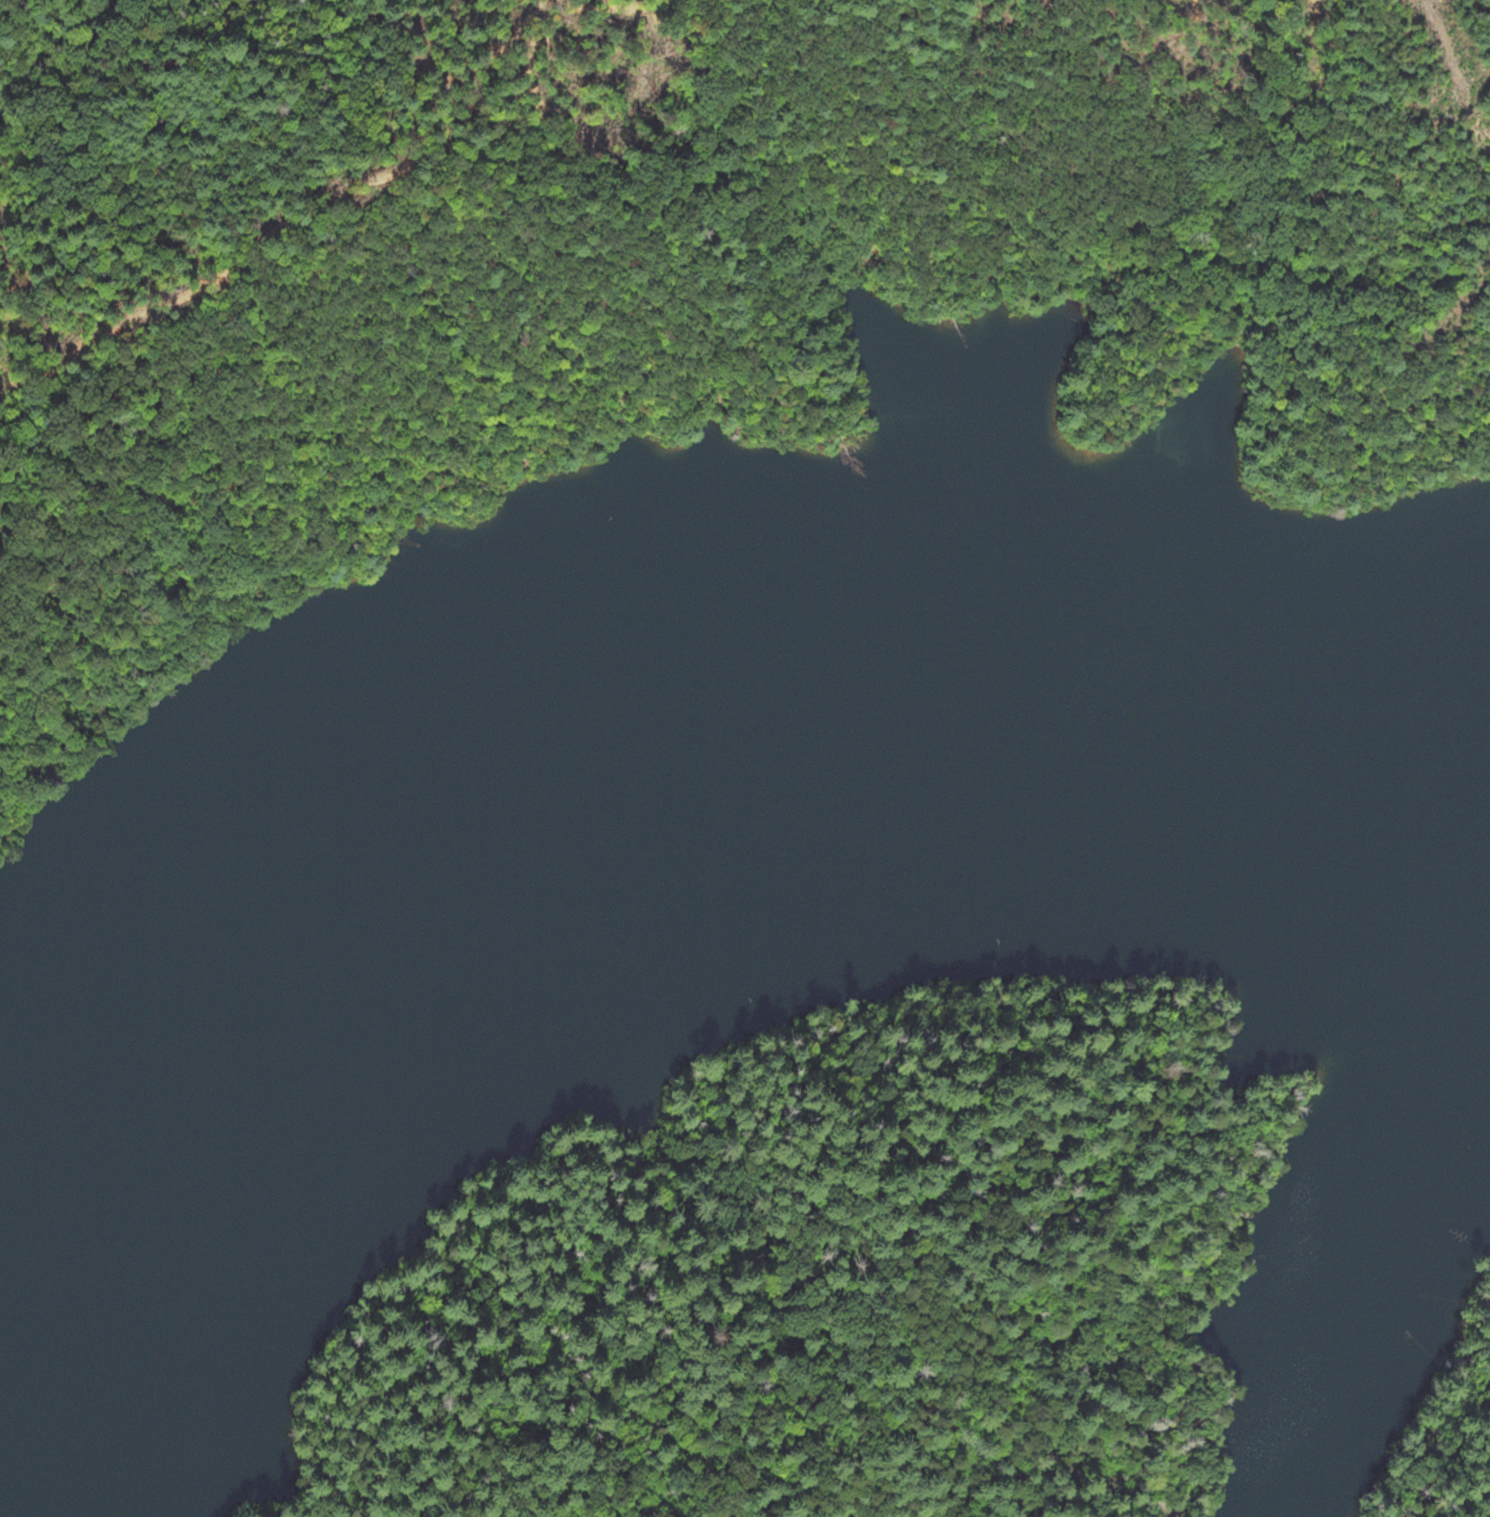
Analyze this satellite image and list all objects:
river: (635, 814)

